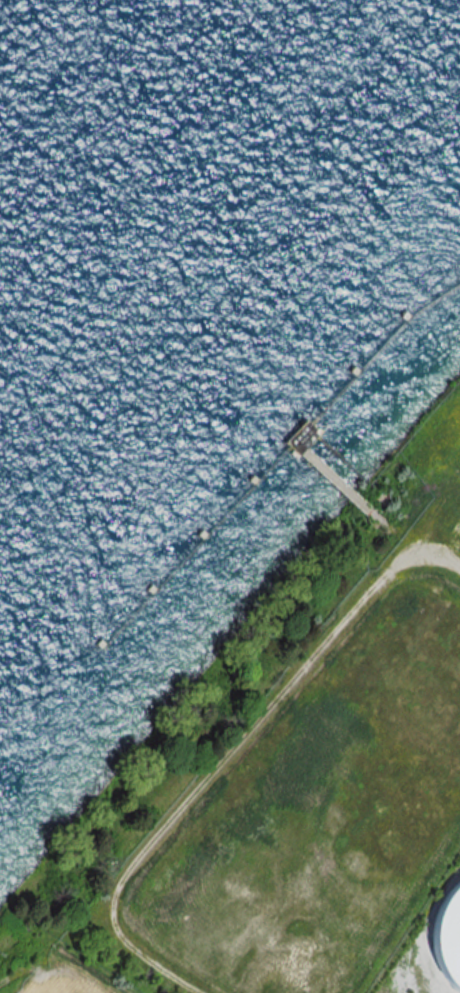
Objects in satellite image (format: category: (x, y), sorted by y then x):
pier: (394, 334)
pier: (313, 421)
pier: (333, 441)
pier: (325, 473)
pier: (205, 539)
power plant: (423, 939)

